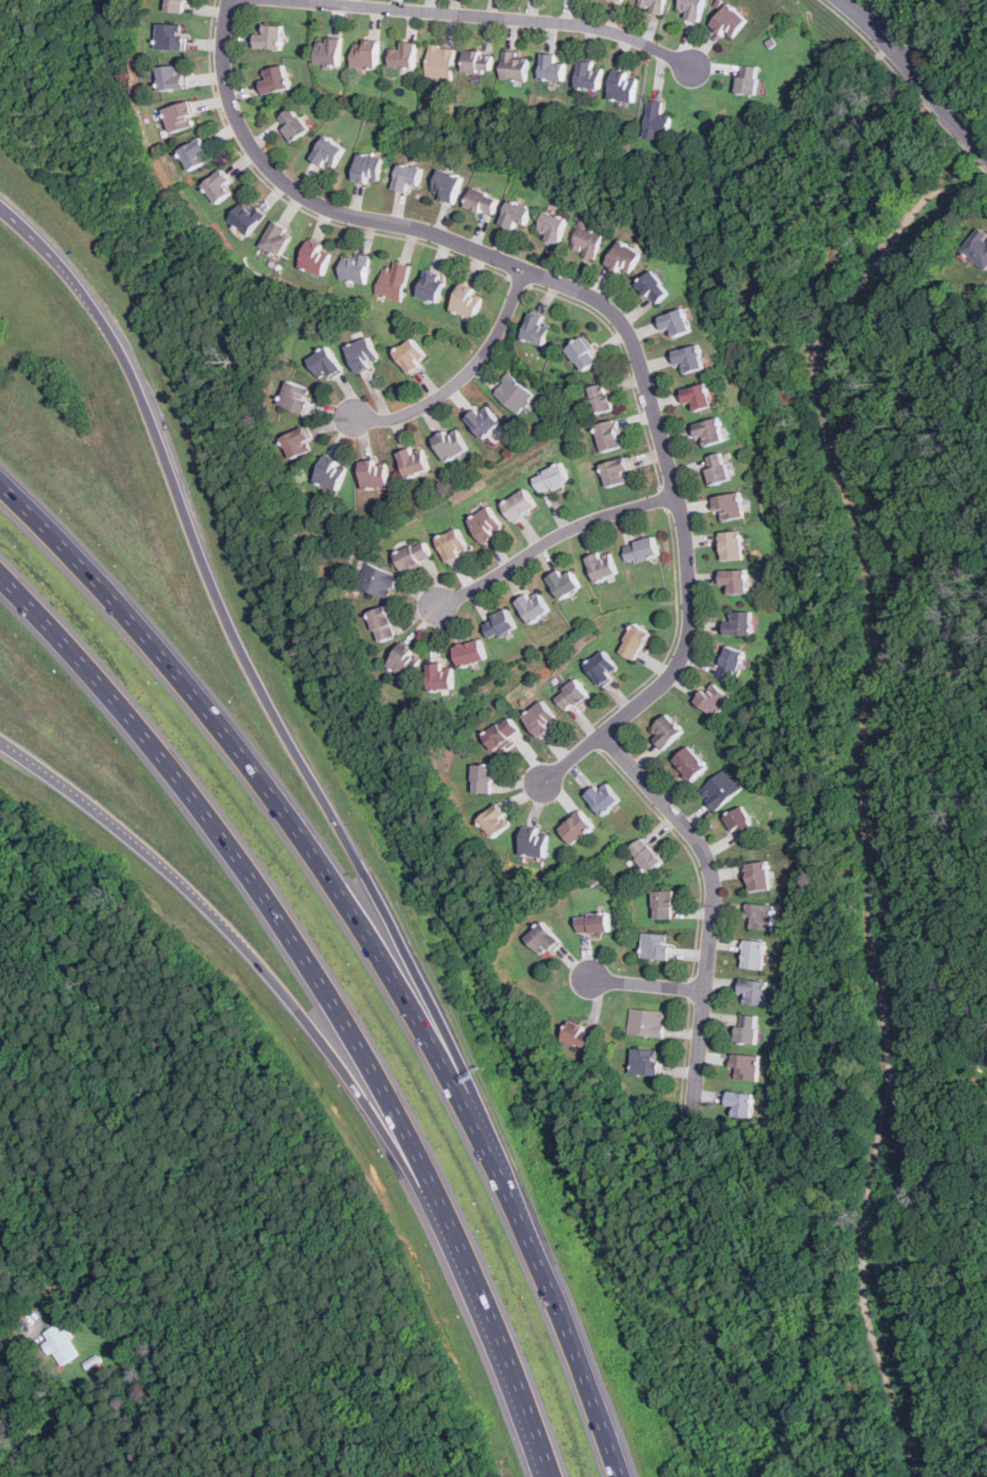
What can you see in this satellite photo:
building: (622, 0)
building: (176, 5)
building: (652, 5)
building: (692, 9)
road: (498, 16)
building: (730, 22)
building: (270, 35)
building: (172, 36)
road: (895, 47)
building: (328, 50)
building: (366, 52)
road: (881, 53)
building: (404, 55)
building: (478, 60)
building: (441, 62)
building: (515, 66)
building: (552, 67)
building: (589, 74)
building: (173, 76)
building: (275, 78)
building: (748, 79)
building: (624, 86)
building: (180, 116)
road: (960, 120)
building: (657, 121)
building: (292, 124)
road: (952, 132)
road: (983, 145)
building: (328, 152)
building: (196, 154)
road: (978, 162)
building: (368, 167)
building: (407, 176)
building: (218, 185)
building: (446, 185)
building: (483, 201)
road: (290, 203)
building: (516, 213)
building: (246, 218)
building: (554, 227)
building: (588, 239)
building: (276, 241)
building: (978, 247)
building: (315, 257)
building: (624, 257)
building: (355, 268)
road: (519, 280)
building: (394, 281)
building: (432, 286)
building: (653, 287)
building: (468, 301)
road: (613, 307)
building: (675, 322)
building: (538, 329)
building: (582, 353)
building: (363, 354)
building: (411, 356)
building: (689, 358)
road: (626, 360)
building: (325, 363)
road: (465, 374)
building: (514, 393)
building: (697, 396)
building: (296, 397)
building: (600, 398)
building: (483, 419)
building: (709, 431)
building: (609, 435)
building: (297, 442)
building: (450, 443)
building: (413, 461)
building: (717, 468)
building: (615, 471)
building: (331, 473)
building: (375, 473)
building: (551, 478)
road: (664, 497)
building: (521, 505)
building: (729, 506)
building: (486, 524)
road: (554, 541)
building: (453, 545)
building: (732, 545)
building: (642, 550)
building: (414, 555)
building: (602, 566)
building: (377, 580)
building: (735, 580)
building: (563, 583)
building: (534, 606)
building: (382, 623)
building: (739, 623)
building: (500, 624)
road: (673, 633)
building: (634, 642)
building: (470, 652)
building: (405, 660)
building: (730, 663)
building: (602, 668)
road: (934, 673)
road: (258, 676)
building: (441, 677)
building: (574, 695)
building: (713, 699)
building: (541, 718)
building: (666, 731)
building: (502, 733)
building: (691, 763)
building: (483, 779)
building: (722, 789)
road: (865, 790)
building: (603, 798)
road: (280, 801)
building: (495, 821)
building: (740, 823)
building: (577, 828)
road: (132, 840)
building: (535, 842)
building: (646, 855)
building: (759, 876)
building: (664, 905)
road: (712, 905)
building: (760, 917)
building: (593, 923)
building: (543, 939)
building: (658, 947)
building: (754, 954)
road: (649, 983)
building: (753, 992)
road: (333, 993)
building: (647, 1023)
building: (747, 1029)
building: (579, 1035)
building: (646, 1062)
building: (746, 1067)
building: (741, 1103)
road: (375, 1109)
road: (926, 1265)
road: (562, 1319)
building: (61, 1345)
road: (15, 1358)

